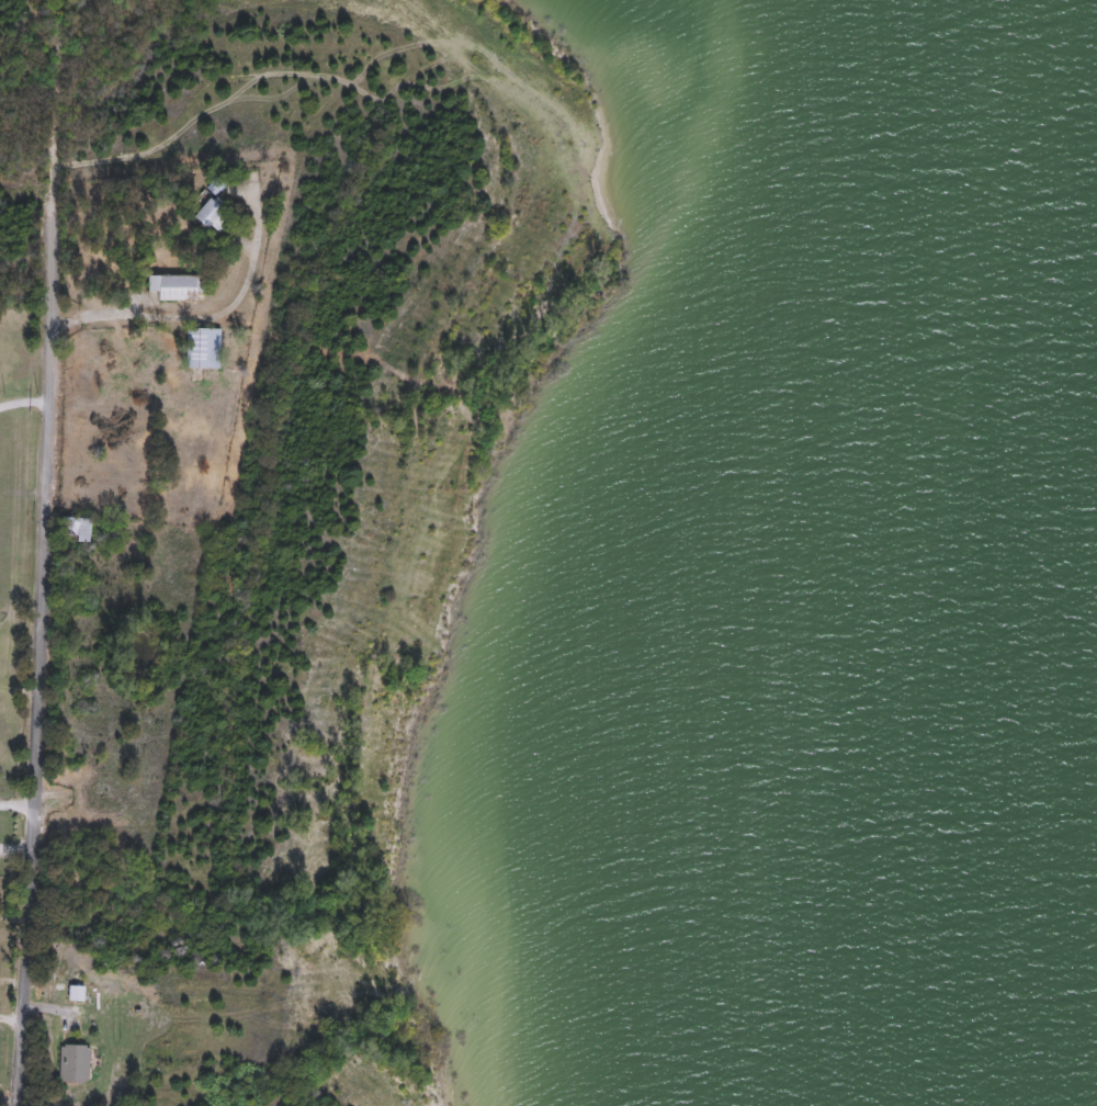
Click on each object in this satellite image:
road: (56, 98)
building: (205, 211)
building: (179, 286)
road: (169, 315)
building: (204, 348)
road: (23, 399)
building: (78, 528)
road: (39, 651)
road: (18, 806)
road: (15, 849)
road: (14, 915)
road: (12, 979)
road: (11, 1018)
building: (75, 1064)

